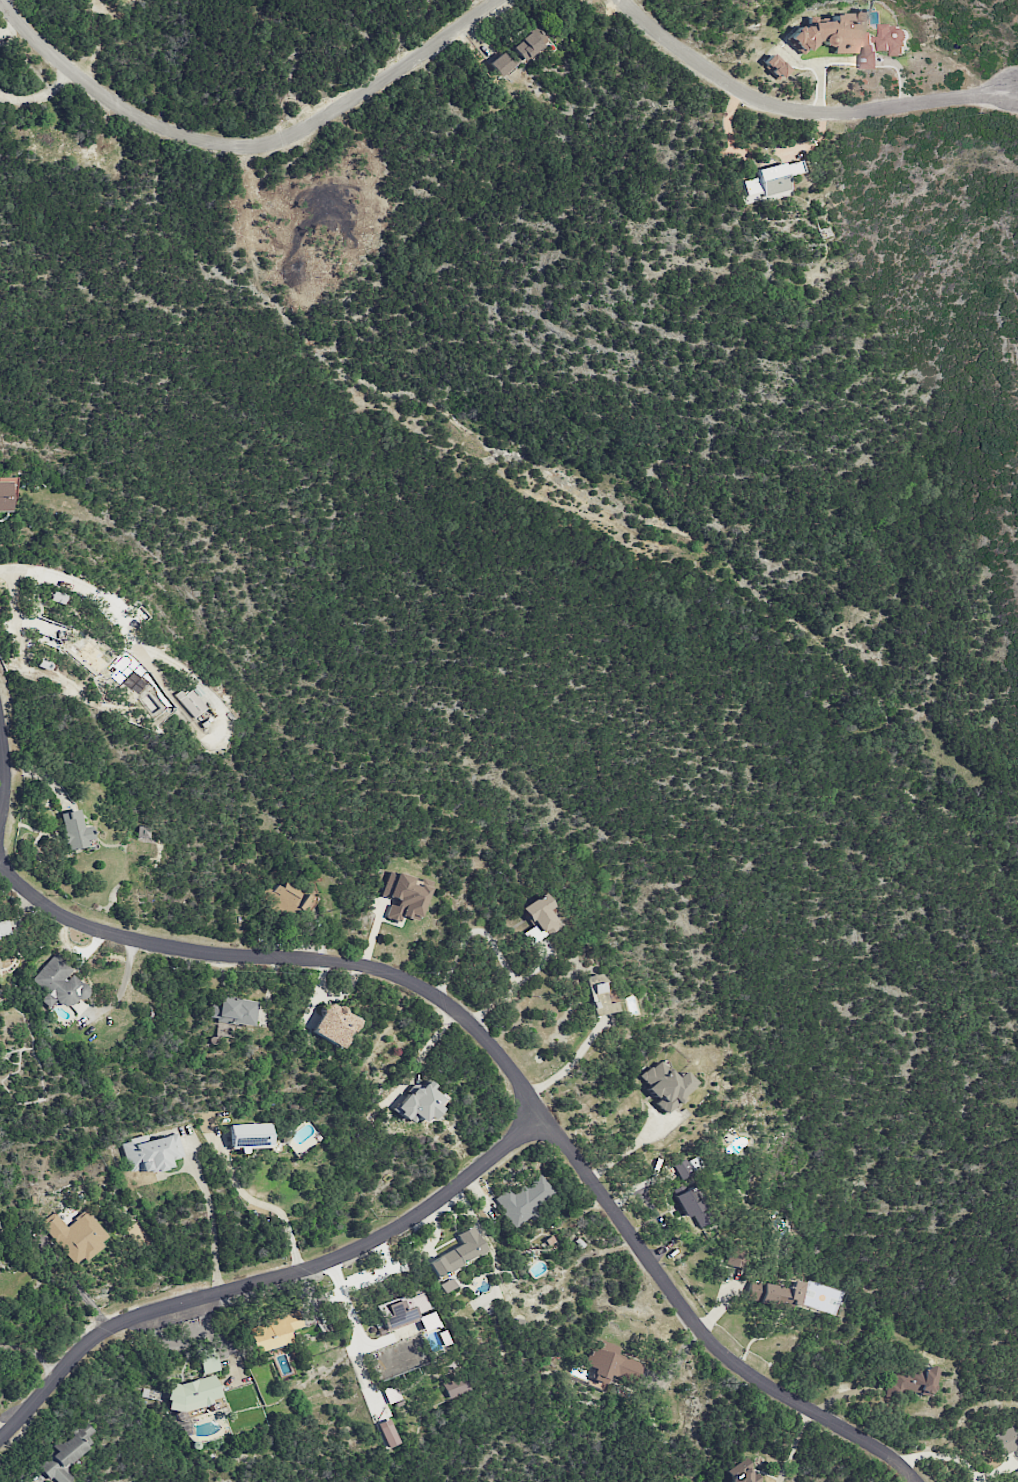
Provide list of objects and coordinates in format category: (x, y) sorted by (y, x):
building: (851, 36)
building: (527, 43)
building: (498, 64)
building: (774, 66)
road: (1016, 92)
road: (801, 111)
road: (246, 146)
building: (770, 182)
building: (4, 497)
building: (58, 595)
road: (125, 627)
building: (133, 675)
building: (190, 702)
road: (2, 774)
building: (74, 830)
building: (142, 833)
building: (402, 897)
building: (284, 898)
building: (539, 919)
building: (4, 929)
road: (469, 931)
building: (59, 983)
road: (123, 985)
road: (510, 992)
building: (597, 996)
building: (232, 1011)
building: (333, 1025)
road: (571, 1061)
road: (513, 1075)
building: (664, 1085)
building: (418, 1103)
building: (248, 1135)
road: (633, 1148)
building: (150, 1153)
building: (682, 1169)
building: (524, 1199)
road: (264, 1205)
building: (692, 1206)
road: (209, 1228)
building: (0, 1229)
building: (76, 1235)
building: (457, 1252)
building: (735, 1257)
road: (378, 1271)
road: (268, 1278)
building: (446, 1285)
road: (79, 1290)
building: (776, 1294)
road: (347, 1302)
building: (403, 1311)
building: (274, 1332)
road: (185, 1341)
road: (32, 1351)
building: (209, 1364)
building: (610, 1365)
building: (908, 1382)
building: (455, 1386)
building: (193, 1393)
building: (391, 1394)
road: (4, 1428)
building: (387, 1433)
building: (1006, 1440)
building: (65, 1453)
road: (943, 1455)
building: (742, 1475)
building: (1016, 1475)

